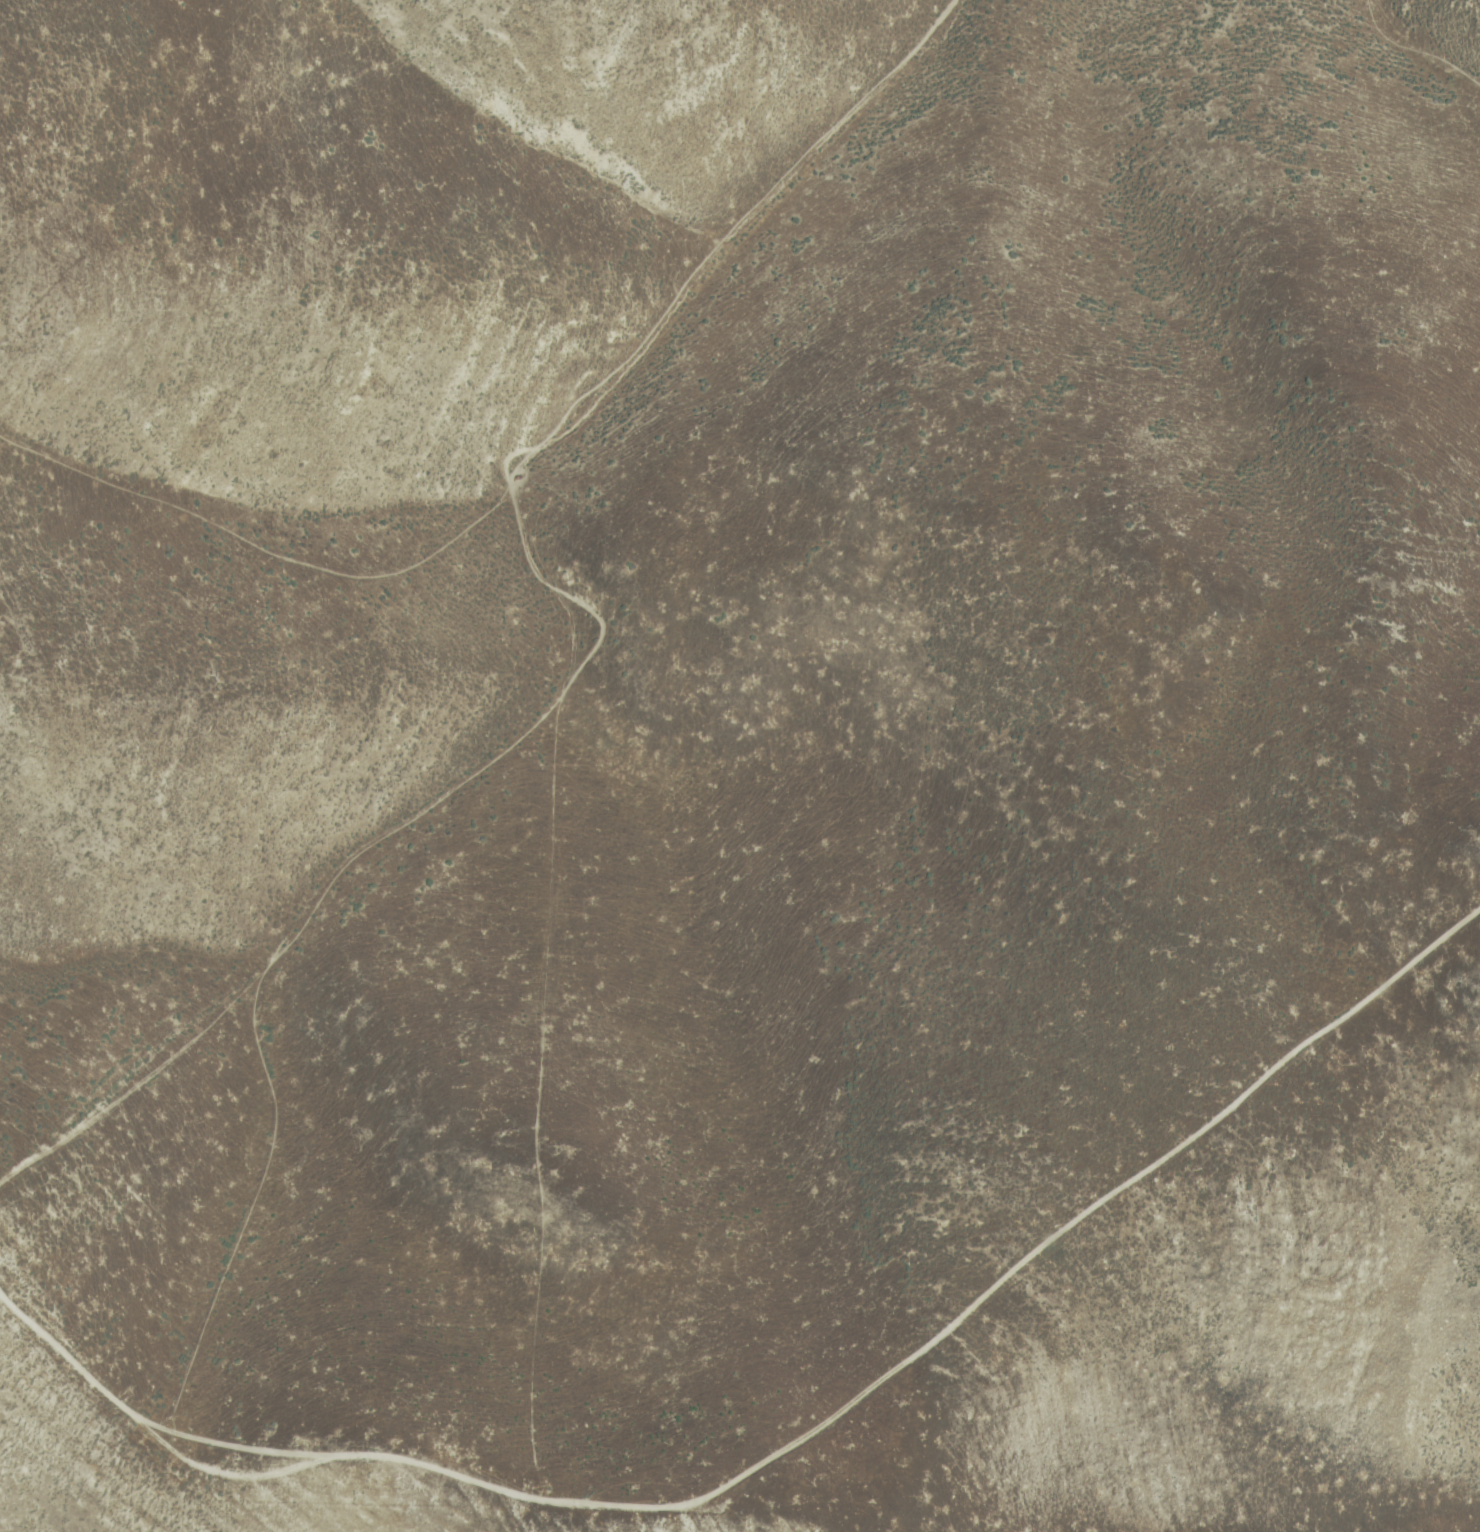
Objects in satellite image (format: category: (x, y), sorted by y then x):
road: (787, 1455)

